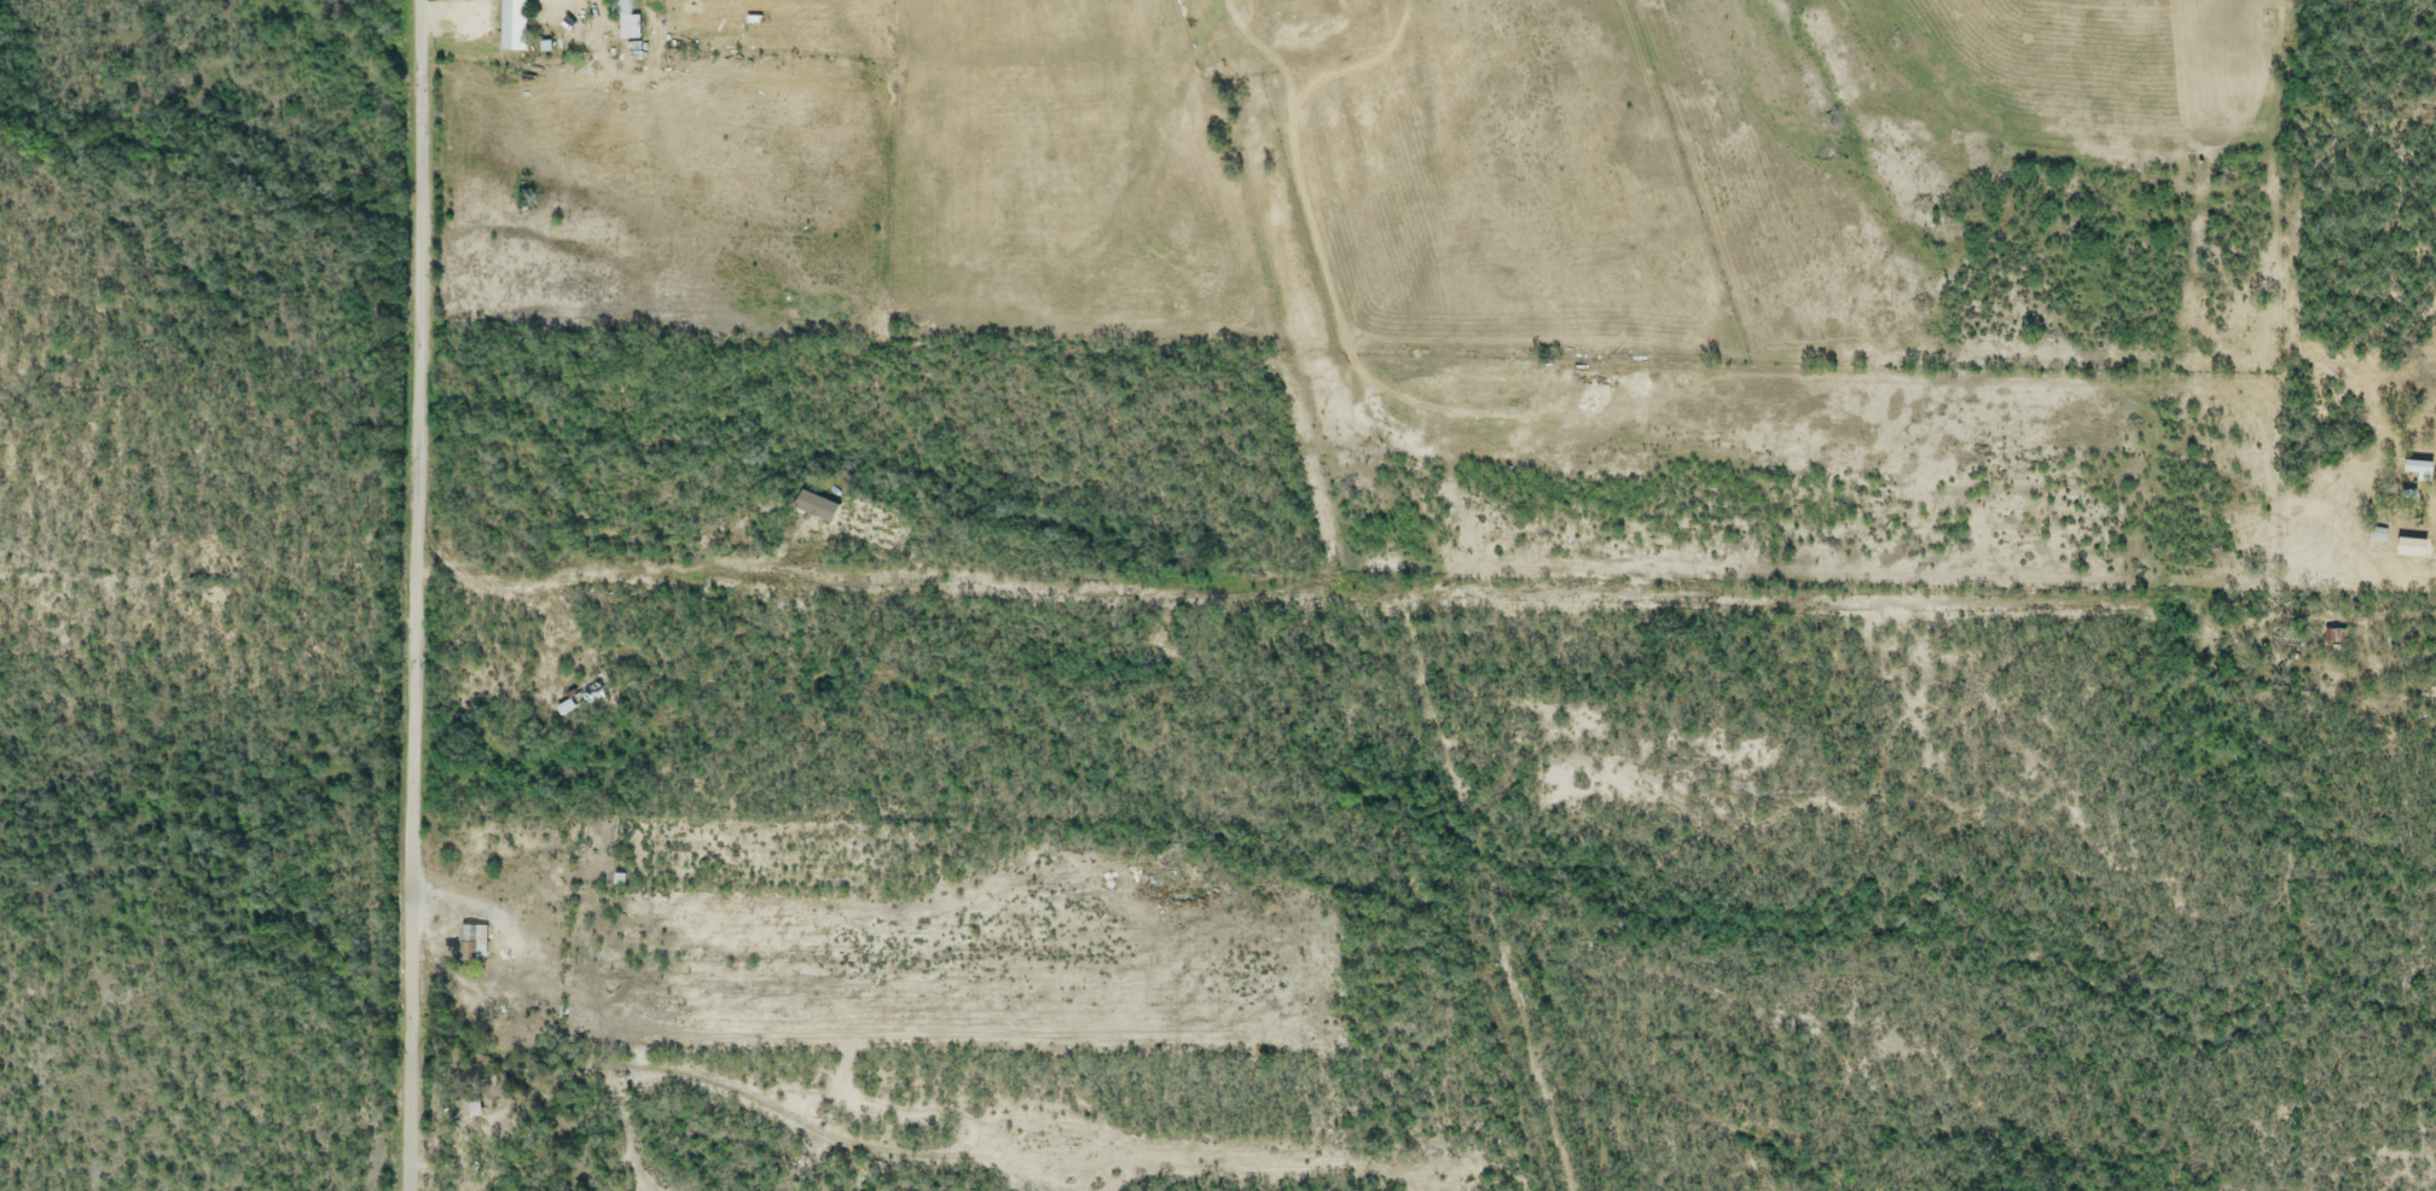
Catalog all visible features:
building: (1294, 1)
road: (1257, 2)
building: (626, 22)
building: (511, 27)
building: (2417, 474)
road: (1335, 592)
road: (410, 594)
building: (472, 946)

